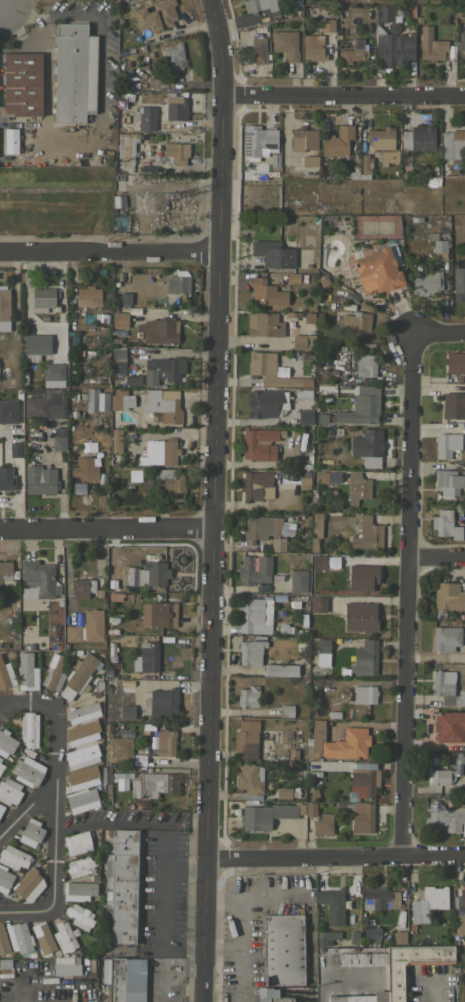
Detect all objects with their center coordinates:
road: (2, 0)
road: (1, 1)
park: (419, 1)
building: (258, 5)
building: (385, 12)
building: (155, 15)
building: (326, 25)
building: (328, 42)
building: (285, 44)
building: (431, 45)
building: (461, 45)
building: (312, 47)
building: (392, 47)
building: (259, 48)
building: (352, 52)
building: (172, 57)
building: (74, 72)
building: (22, 83)
road: (343, 97)
building: (175, 108)
building: (146, 118)
road: (79, 137)
building: (380, 138)
building: (418, 138)
building: (10, 140)
building: (337, 141)
building: (257, 142)
building: (452, 144)
building: (125, 146)
building: (304, 147)
building: (174, 153)
building: (388, 157)
building: (364, 166)
power tower: (142, 202)
building: (438, 245)
building: (274, 253)
road: (109, 254)
building: (379, 268)
building: (292, 278)
building: (302, 278)
building: (426, 280)
building: (177, 282)
building: (458, 283)
building: (267, 292)
building: (88, 296)
building: (43, 299)
building: (123, 299)
building: (4, 303)
building: (308, 318)
building: (120, 319)
building: (355, 320)
building: (264, 324)
building: (159, 330)
road: (438, 333)
building: (303, 341)
building: (36, 346)
building: (118, 359)
building: (454, 362)
building: (365, 364)
building: (162, 370)
building: (270, 370)
building: (53, 375)
building: (464, 378)
building: (303, 394)
building: (121, 399)
building: (89, 401)
building: (46, 405)
building: (163, 405)
building: (261, 405)
building: (366, 405)
building: (453, 405)
building: (7, 412)
building: (305, 416)
building: (115, 425)
building: (59, 439)
building: (116, 440)
building: (258, 443)
building: (446, 444)
building: (367, 446)
building: (159, 452)
building: (15, 453)
building: (85, 465)
building: (287, 476)
building: (6, 479)
building: (40, 479)
building: (303, 479)
building: (447, 479)
building: (171, 482)
building: (256, 485)
building: (357, 487)
building: (75, 488)
road: (213, 500)
building: (445, 524)
building: (261, 527)
road: (106, 529)
building: (315, 529)
building: (367, 533)
building: (278, 543)
road: (436, 558)
building: (369, 570)
building: (254, 571)
building: (156, 574)
building: (7, 576)
building: (133, 577)
building: (38, 580)
building: (298, 580)
building: (351, 583)
building: (82, 587)
road: (407, 595)
building: (448, 596)
building: (317, 604)
building: (158, 614)
building: (254, 615)
building: (357, 615)
building: (86, 627)
building: (445, 639)
building: (323, 645)
building: (250, 651)
building: (148, 656)
building: (365, 658)
building: (281, 669)
building: (27, 671)
building: (53, 672)
building: (6, 673)
building: (78, 676)
building: (443, 686)
building: (364, 694)
building: (248, 696)
building: (462, 697)
building: (161, 702)
building: (287, 710)
building: (127, 711)
building: (82, 712)
building: (449, 726)
building: (107, 728)
building: (29, 729)
building: (82, 732)
building: (124, 734)
building: (244, 741)
building: (6, 742)
building: (165, 742)
building: (338, 742)
building: (121, 749)
building: (81, 756)
building: (0, 758)
building: (1, 766)
building: (27, 771)
building: (446, 771)
building: (81, 776)
building: (363, 779)
building: (117, 782)
building: (156, 783)
building: (250, 783)
building: (9, 791)
building: (283, 792)
building: (464, 793)
building: (82, 800)
road: (55, 805)
building: (1, 808)
road: (27, 809)
building: (310, 809)
building: (268, 815)
building: (362, 817)
building: (446, 817)
road: (130, 823)
building: (323, 823)
building: (31, 833)
building: (125, 841)
building: (77, 842)
building: (13, 857)
road: (335, 859)
building: (79, 866)
building: (4, 879)
building: (29, 883)
building: (78, 890)
road: (223, 894)
building: (122, 896)
building: (435, 897)
building: (379, 898)
road: (164, 903)
building: (332, 904)
building: (413, 911)
building: (460, 914)
building: (79, 916)
road: (242, 920)
road: (308, 931)
building: (370, 932)
building: (399, 933)
building: (19, 937)
building: (43, 937)
building: (63, 937)
building: (327, 937)
building: (353, 937)
building: (3, 942)
road: (222, 949)
building: (283, 949)
building: (362, 958)
building: (66, 959)
building: (5, 963)
building: (66, 969)
building: (6, 972)
building: (124, 978)
building: (396, 978)
road: (322, 980)
road: (435, 991)
building: (265, 993)
building: (360, 997)
building: (281, 999)

